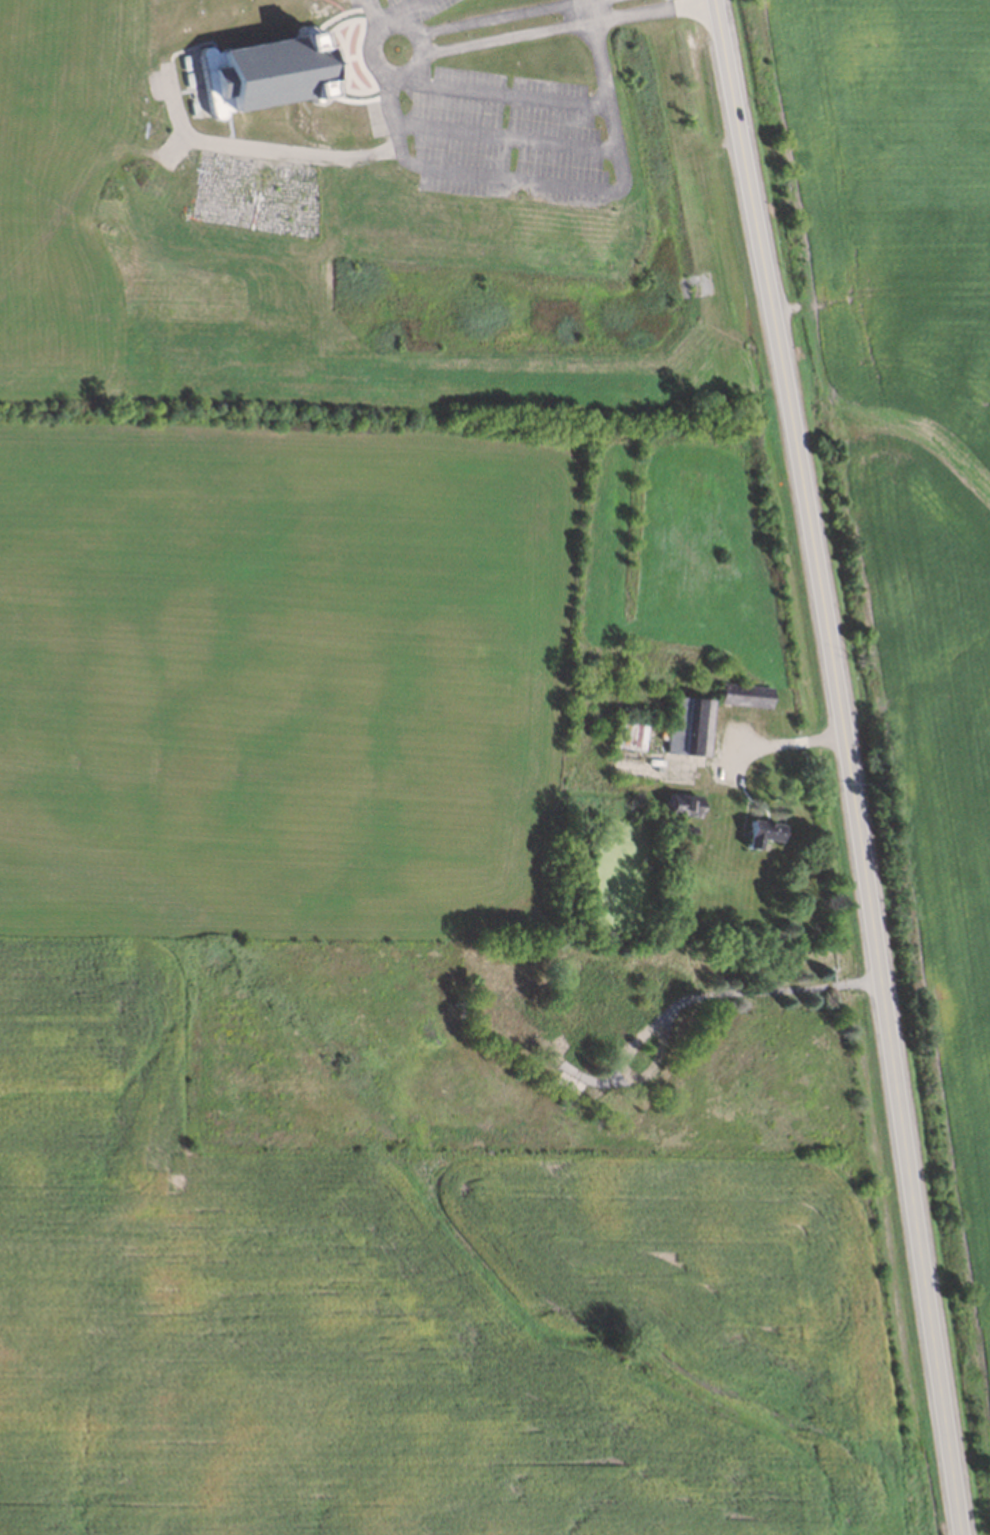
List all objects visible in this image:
road: (398, 12)
road: (373, 14)
road: (495, 17)
road: (564, 29)
road: (408, 32)
building: (266, 75)
road: (500, 93)
road: (603, 98)
road: (393, 119)
road: (503, 137)
road: (259, 148)
road: (510, 179)
building: (745, 695)
building: (689, 726)
building: (633, 736)
road: (789, 741)
road: (848, 765)
building: (684, 804)
building: (763, 833)
road: (685, 1000)

